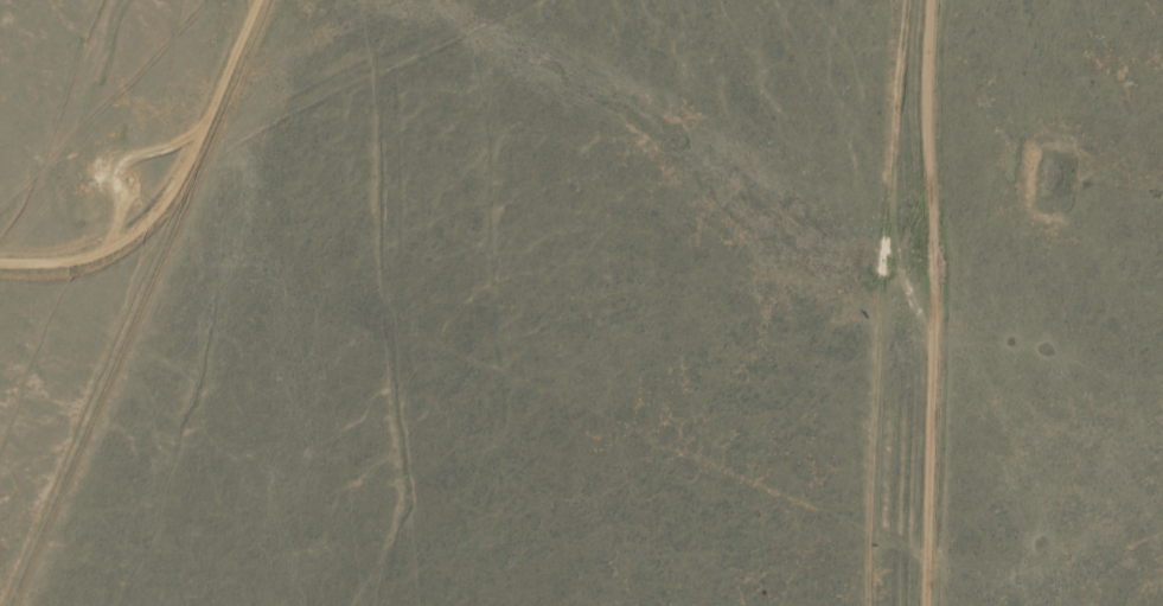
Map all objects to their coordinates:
road: (222, 125)
road: (881, 302)

